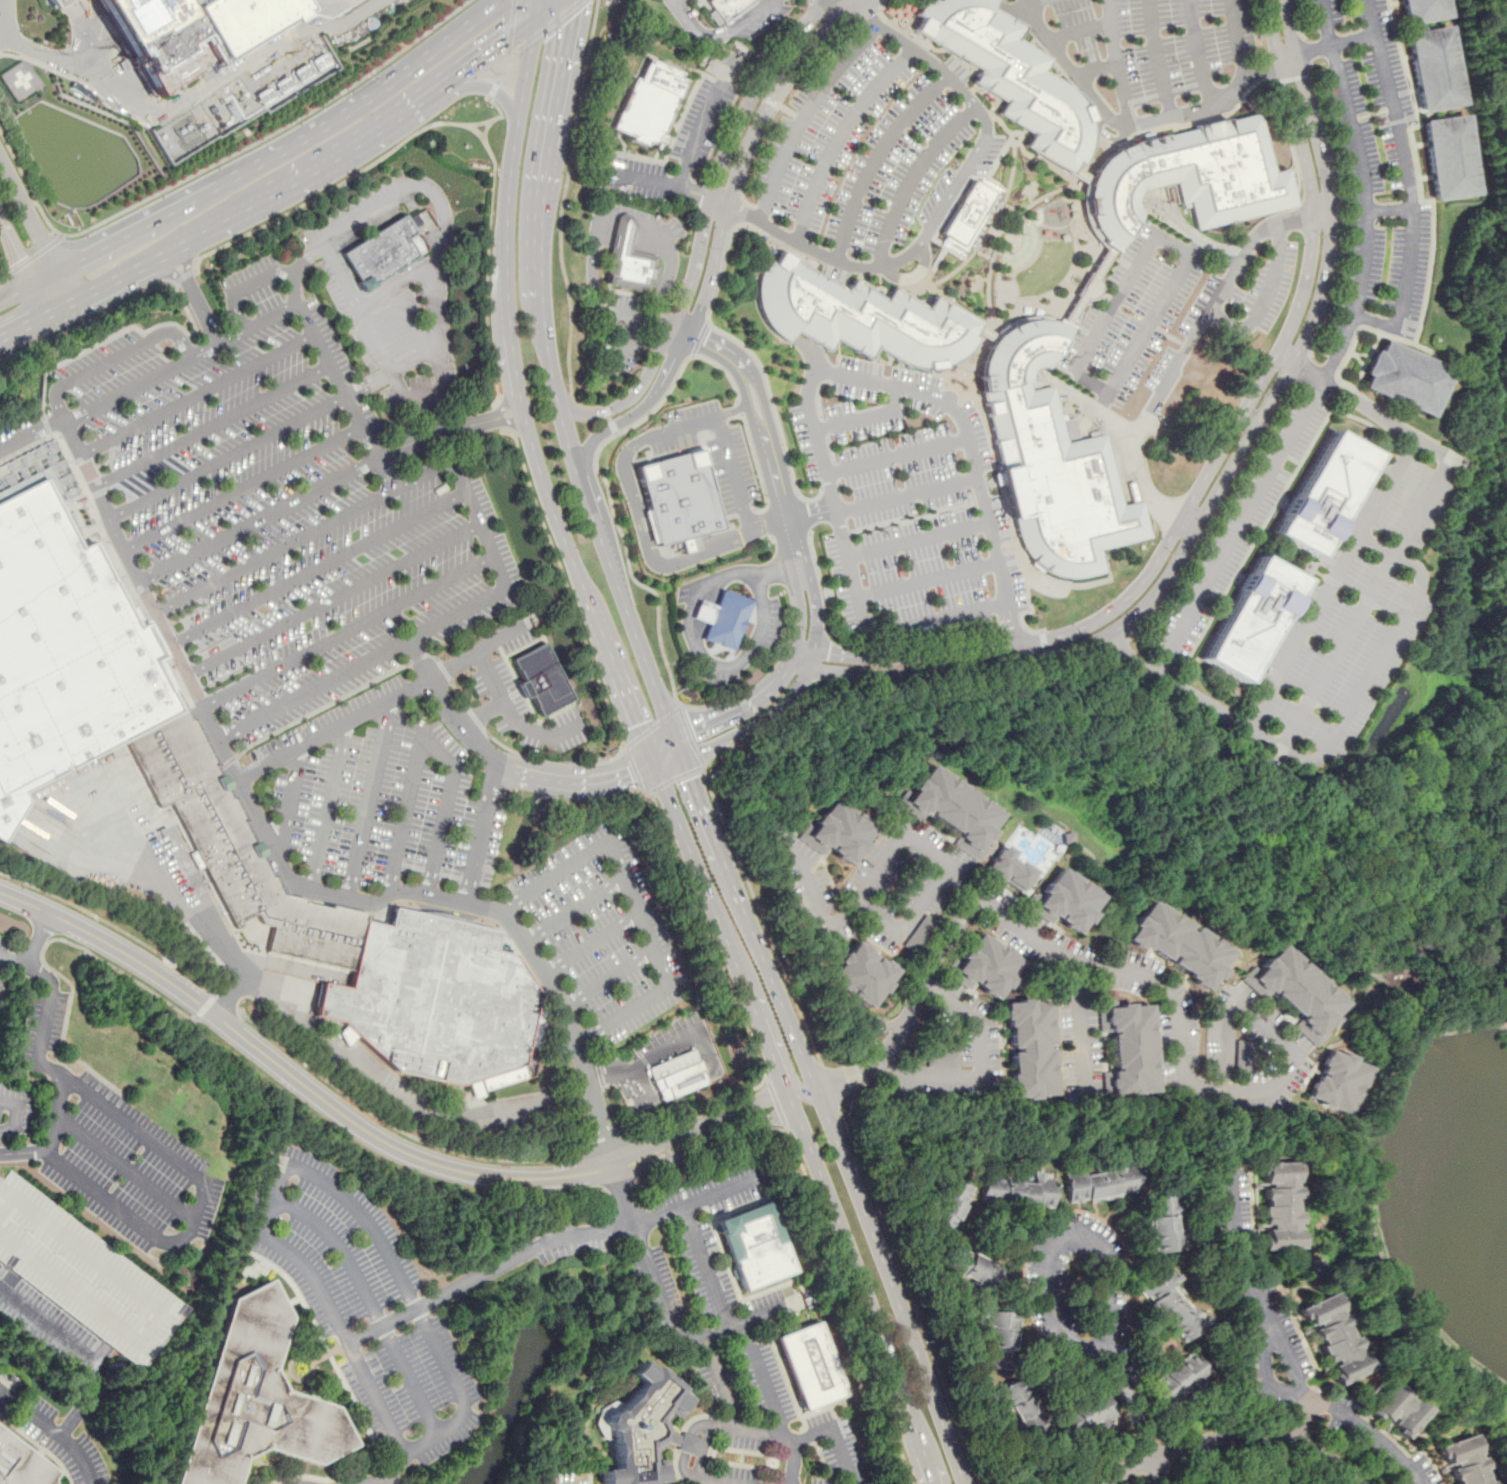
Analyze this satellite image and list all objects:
road: (672, 0)
road: (1034, 2)
road: (821, 3)
building: (63, 4)
building: (325, 6)
road: (538, 7)
road: (546, 7)
building: (727, 7)
building: (1422, 10)
road: (4, 12)
traffic signals: (571, 17)
parking lot: (727, 17)
road: (1295, 19)
road: (551, 23)
road: (1324, 23)
road: (511, 25)
road: (720, 29)
road: (1081, 30)
building: (185, 32)
road: (723, 39)
road: (1238, 39)
traffic signals: (502, 43)
road: (1335, 44)
road: (916, 50)
road: (1305, 50)
road: (514, 51)
road: (1198, 54)
parking lot: (1149, 57)
road: (56, 58)
road: (1157, 59)
building: (319, 62)
road: (1119, 62)
road: (502, 67)
building: (1433, 68)
building: (1012, 77)
road: (1289, 77)
helipad: (21, 79)
road: (76, 80)
road: (486, 87)
road: (757, 87)
road: (492, 90)
road: (384, 91)
road: (776, 91)
road: (762, 95)
road: (779, 101)
building: (649, 102)
road: (786, 109)
road: (554, 116)
road: (803, 116)
road: (1138, 123)
road: (475, 131)
road: (837, 134)
road: (1291, 148)
parking lot: (864, 149)
parking lot: (674, 151)
building: (1448, 156)
road: (873, 157)
fountain: (73, 161)
road: (220, 161)
road: (1407, 161)
road: (687, 168)
road: (306, 172)
parking lot: (1371, 173)
building: (1188, 176)
road: (913, 177)
road: (335, 185)
road: (411, 185)
road: (697, 190)
road: (951, 196)
road: (721, 198)
road: (1389, 209)
building: (968, 212)
road: (1339, 217)
road: (154, 221)
road: (560, 230)
road: (36, 231)
road: (624, 231)
road: (59, 235)
road: (729, 236)
road: (486, 243)
road: (801, 244)
building: (382, 253)
road: (29, 258)
building: (629, 259)
road: (1235, 260)
road: (695, 261)
road: (593, 262)
road: (0, 265)
parking lot: (329, 265)
road: (670, 266)
park: (1046, 266)
road: (24, 267)
road: (711, 268)
road: (183, 276)
parking lot: (630, 278)
road: (405, 280)
road: (28, 286)
road: (241, 286)
road: (197, 296)
road: (1113, 302)
parking lot: (1172, 308)
road: (55, 310)
road: (615, 312)
road: (276, 316)
building: (862, 316)
road: (544, 319)
road: (1374, 319)
road: (408, 321)
road: (193, 323)
road: (628, 323)
road: (24, 326)
road: (680, 329)
road: (1141, 333)
road: (1192, 337)
road: (698, 338)
road: (734, 358)
road: (114, 360)
road: (668, 371)
road: (1324, 376)
building: (1404, 377)
road: (399, 391)
road: (631, 395)
road: (199, 396)
road: (892, 397)
road: (505, 400)
road: (741, 406)
road: (1363, 406)
road: (774, 412)
road: (502, 415)
road: (1248, 419)
road: (856, 420)
road: (511, 426)
road: (214, 427)
road: (602, 433)
road: (30, 434)
road: (434, 434)
road: (896, 457)
road: (229, 460)
building: (1049, 461)
road: (772, 462)
road: (973, 464)
road: (757, 467)
road: (1209, 468)
road: (735, 475)
road: (605, 479)
road: (1221, 483)
parking lot: (692, 487)
road: (243, 489)
road: (905, 491)
building: (1324, 493)
building: (680, 497)
parking lot: (905, 501)
parking lot: (283, 503)
road: (638, 507)
road: (804, 514)
road: (811, 515)
road: (258, 519)
road: (1010, 523)
parking lot: (1238, 529)
road: (918, 541)
road: (794, 543)
road: (275, 553)
road: (126, 557)
road: (500, 567)
road: (574, 567)
road: (849, 567)
road: (320, 569)
road: (779, 570)
road: (727, 575)
road: (927, 578)
road: (617, 581)
road: (1333, 582)
road: (565, 584)
parking lot: (1360, 598)
road: (334, 600)
road: (1367, 602)
road: (799, 606)
road: (816, 606)
building: (723, 618)
parking lot: (730, 618)
building: (1248, 620)
road: (1010, 631)
road: (349, 632)
road: (868, 636)
road: (1386, 639)
road: (1044, 647)
road: (432, 654)
road: (418, 658)
road: (812, 660)
road: (454, 665)
road: (730, 665)
road: (789, 665)
road: (442, 670)
road: (998, 673)
building: (540, 678)
road: (313, 688)
parking lot: (518, 693)
road: (458, 694)
road: (501, 695)
road: (1208, 703)
road: (320, 708)
road: (728, 711)
road: (482, 714)
road: (476, 720)
traffic signals: (637, 723)
road: (754, 723)
traffic signals: (692, 725)
road: (652, 726)
road: (335, 729)
road: (689, 735)
road: (216, 736)
road: (660, 740)
road: (430, 741)
road: (483, 748)
road: (227, 762)
road: (669, 762)
road: (553, 763)
road: (606, 766)
road: (633, 768)
road: (499, 772)
traffic signals: (691, 777)
traffic signals: (630, 778)
road: (676, 778)
road: (609, 784)
parking lot: (383, 798)
road: (289, 800)
road: (372, 800)
road: (327, 809)
building: (952, 809)
building: (228, 815)
building: (837, 831)
road: (480, 843)
road: (1338, 859)
building: (1009, 868)
building: (1067, 901)
road: (635, 903)
road: (475, 906)
road: (576, 910)
road: (188, 913)
road: (758, 913)
road: (819, 915)
road: (908, 921)
road: (749, 923)
road: (112, 925)
road: (81, 929)
road: (706, 930)
parking lot: (605, 932)
building: (921, 933)
road: (62, 939)
road: (593, 942)
building: (1178, 943)
road: (33, 955)
road: (14, 963)
building: (984, 967)
building: (860, 974)
road: (610, 978)
building: (1296, 991)
road: (1354, 991)
road: (225, 1002)
road: (204, 1006)
road: (911, 1009)
road: (1179, 1013)
road: (1080, 1023)
road: (44, 1028)
building: (347, 1035)
parking lot: (555, 1042)
parking lot: (674, 1042)
building: (1128, 1047)
building: (1028, 1048)
building: (941, 1059)
road: (616, 1070)
road: (981, 1070)
road: (95, 1072)
road: (600, 1074)
building: (677, 1074)
road: (829, 1084)
building: (1346, 1086)
road: (797, 1090)
road: (776, 1104)
road: (14, 1113)
road: (675, 1120)
road: (711, 1121)
road: (55, 1123)
road: (395, 1128)
road: (376, 1137)
road: (717, 1137)
road: (610, 1140)
road: (711, 1161)
road: (126, 1166)
building: (1099, 1181)
road: (618, 1187)
road: (1366, 1187)
building: (1019, 1190)
road: (566, 1194)
road: (275, 1198)
road: (694, 1199)
building: (1279, 1204)
road: (199, 1205)
building: (948, 1207)
building: (1164, 1222)
building: (754, 1246)
road: (1106, 1257)
road: (705, 1265)
building: (972, 1268)
road: (395, 1270)
road: (485, 1270)
building: (86, 1276)
parking garage: (86, 1276)
road: (891, 1286)
road: (0, 1287)
road: (860, 1287)
road: (910, 1295)
road: (661, 1301)
road: (369, 1303)
parking lot: (366, 1304)
road: (854, 1304)
building: (1170, 1305)
road: (344, 1334)
building: (1334, 1337)
parking lot: (735, 1338)
building: (999, 1339)
road: (81, 1350)
road: (1285, 1355)
building: (1248, 1361)
building: (809, 1366)
road: (1265, 1369)
building: (1178, 1378)
road: (763, 1379)
road: (721, 1380)
building: (255, 1399)
building: (1021, 1405)
building: (1397, 1410)
building: (1084, 1411)
road: (1300, 1421)
road: (708, 1426)
building: (643, 1428)
road: (53, 1431)
road: (837, 1435)
road: (1227, 1437)
road: (421, 1441)
road: (792, 1460)
building: (1464, 1461)
building: (21, 1464)
road: (1157, 1471)
road: (363, 1481)
road: (386, 1481)
building: (1233, 1481)
building: (1408, 1483)

